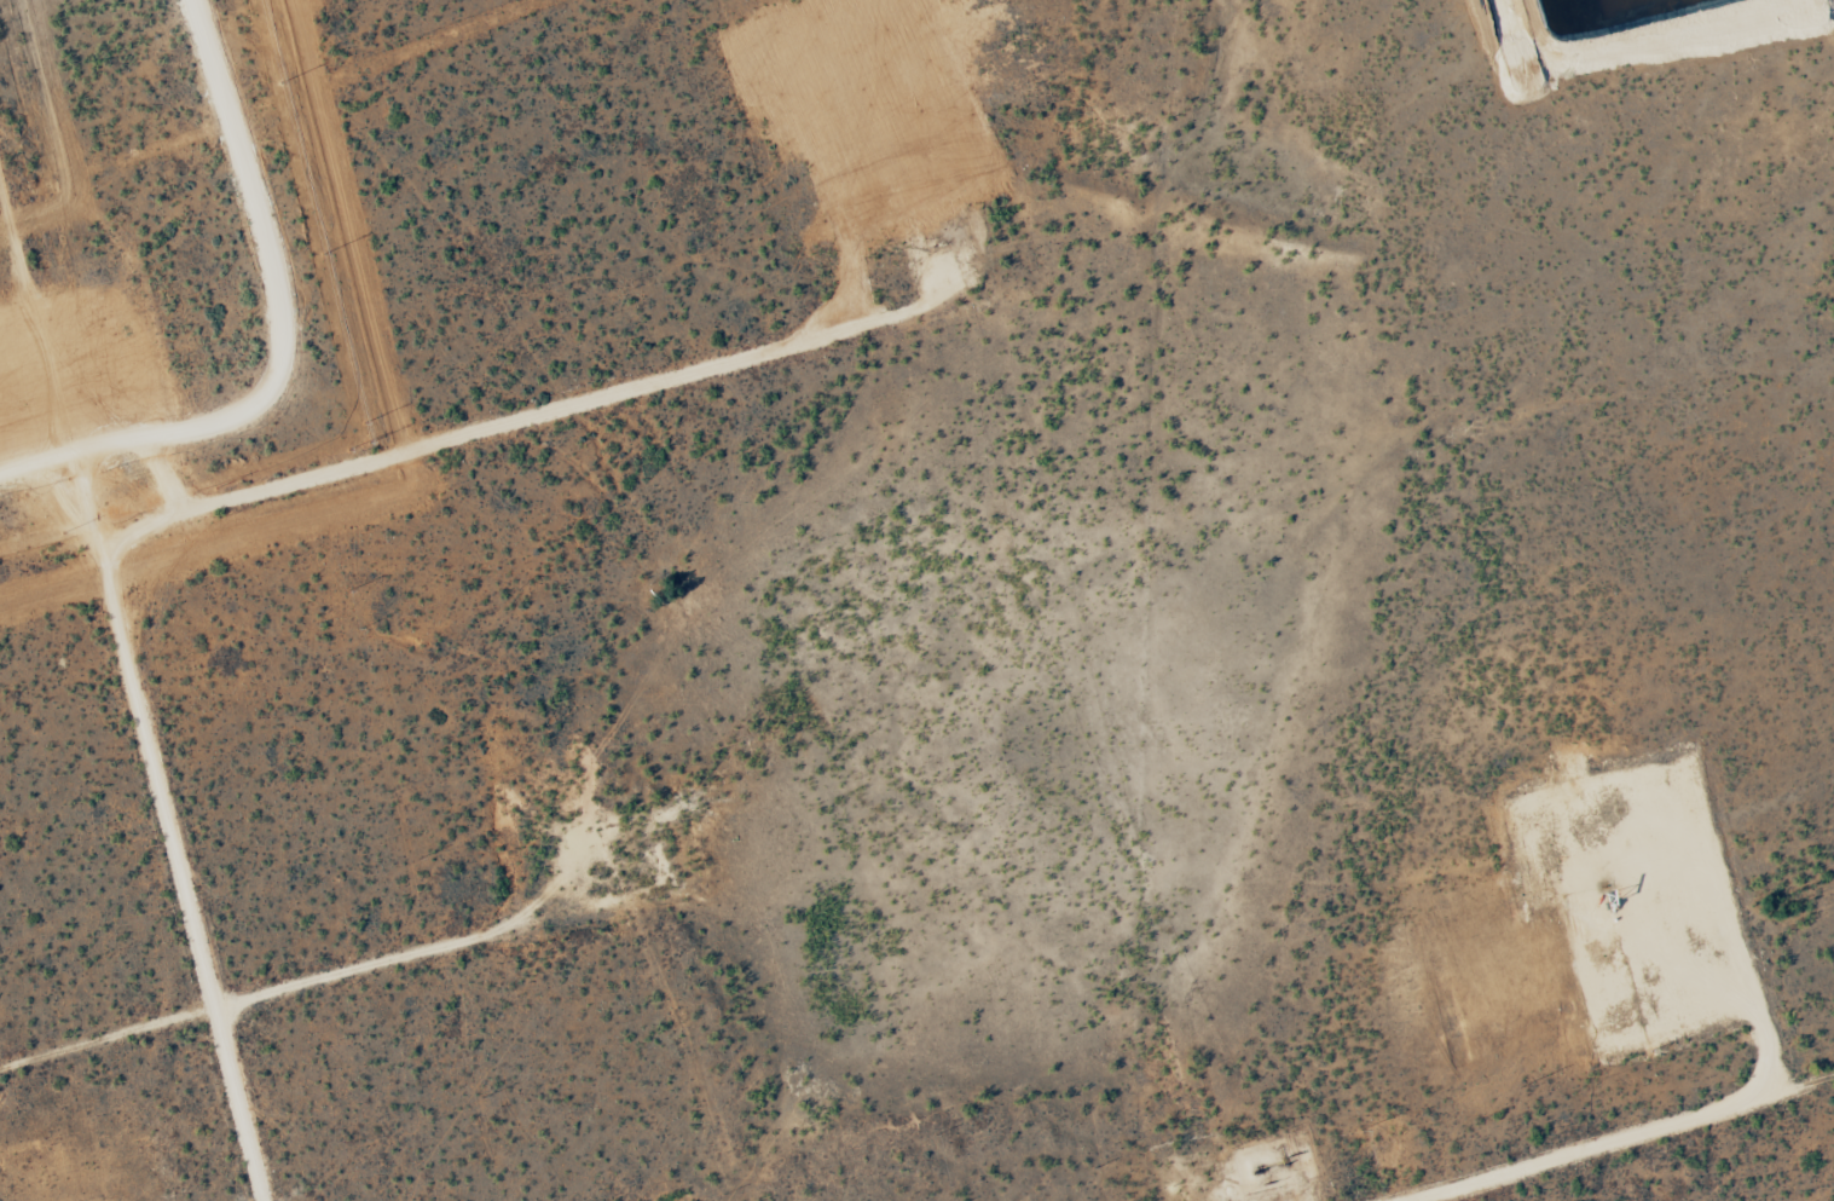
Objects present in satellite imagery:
road: (507, 431)
road: (152, 659)
road: (1590, 1132)

